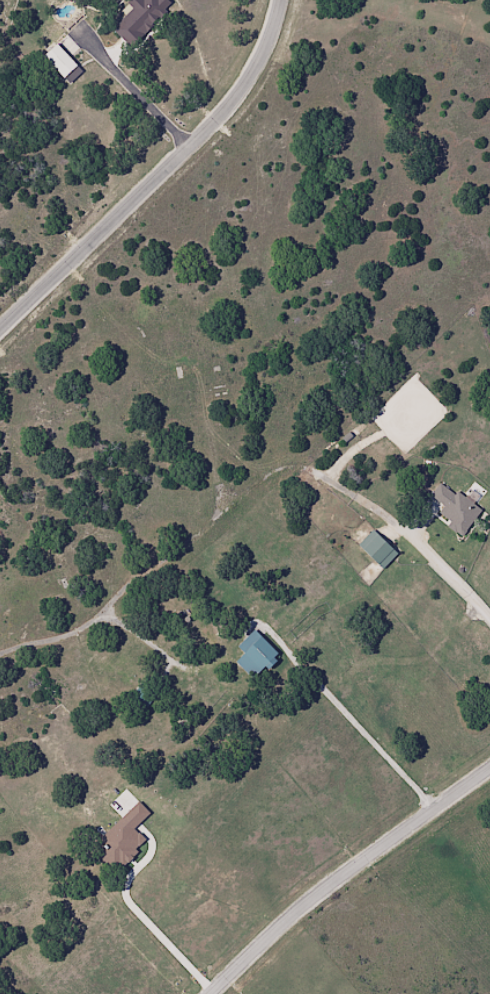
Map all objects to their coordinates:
building: (142, 19)
building: (63, 60)
road: (157, 176)
building: (460, 507)
road: (412, 541)
building: (381, 550)
building: (260, 653)
building: (125, 838)
road: (346, 874)

